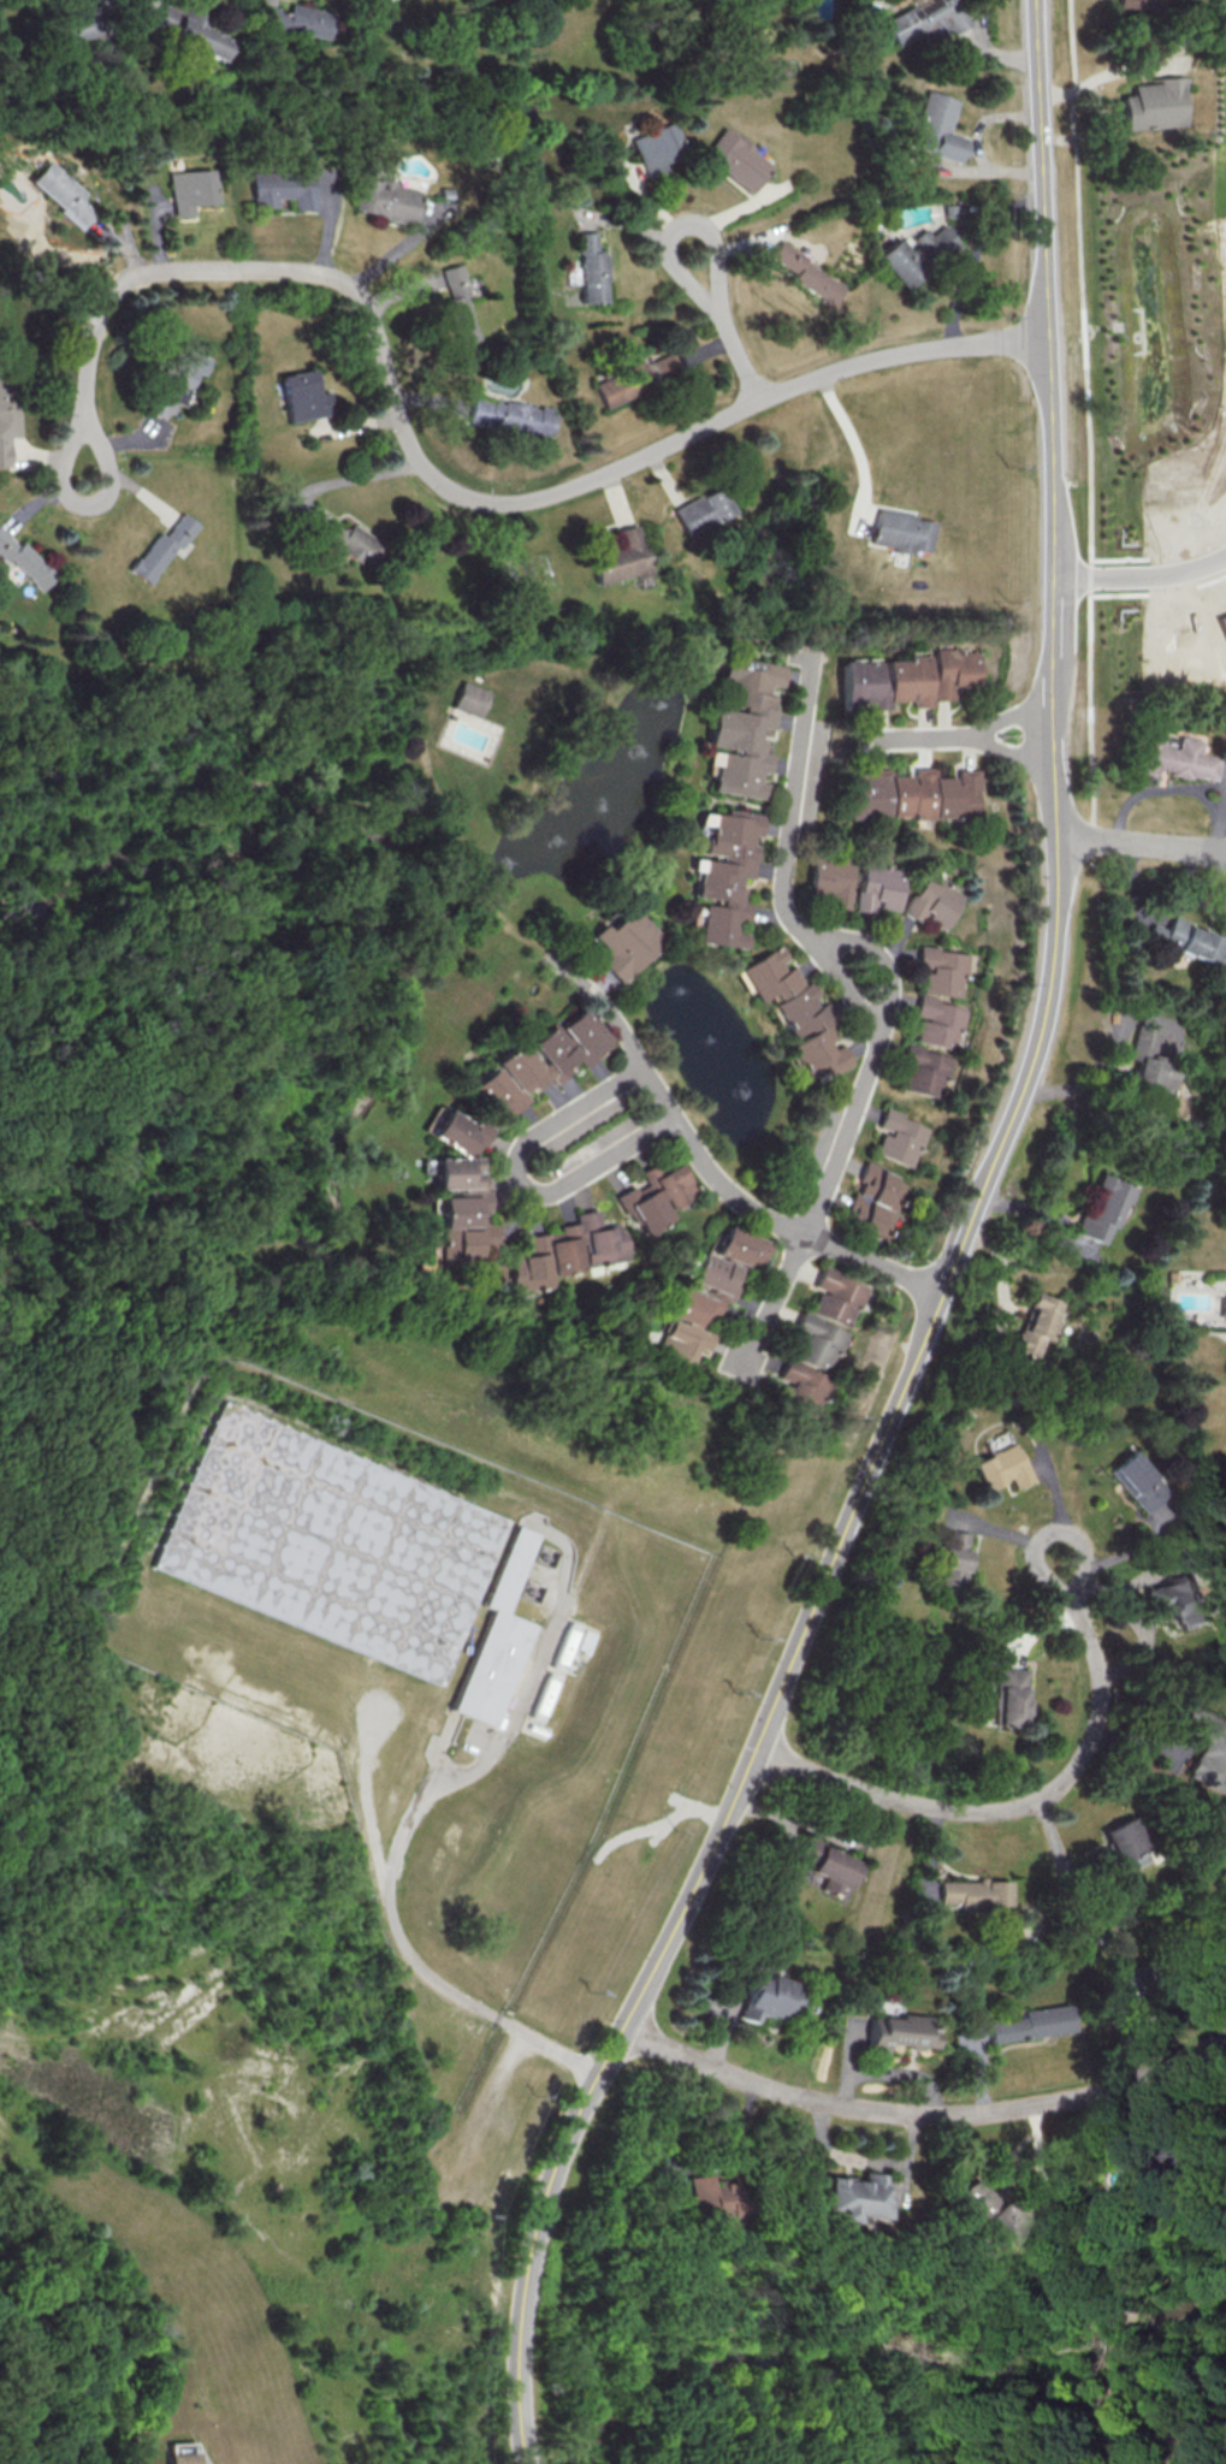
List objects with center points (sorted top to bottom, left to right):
building: (1138, 4)
building: (295, 19)
building: (925, 20)
building: (76, 24)
building: (190, 31)
road: (1112, 70)
building: (1155, 103)
building: (938, 126)
building: (657, 147)
building: (739, 159)
building: (286, 188)
building: (193, 190)
building: (61, 194)
building: (389, 200)
building: (935, 243)
building: (901, 263)
building: (591, 269)
building: (810, 274)
building: (458, 306)
road: (728, 327)
building: (639, 378)
building: (176, 379)
building: (301, 396)
building: (511, 416)
building: (7, 420)
road: (854, 440)
road: (356, 476)
road: (438, 480)
building: (701, 510)
building: (902, 531)
building: (344, 539)
building: (160, 549)
building: (618, 556)
building: (25, 561)
road: (1141, 577)
building: (1225, 617)
building: (912, 679)
building: (468, 698)
road: (1018, 718)
building: (744, 724)
road: (930, 739)
road: (1019, 751)
building: (1177, 757)
building: (916, 794)
road: (1143, 845)
building: (725, 876)
building: (835, 881)
building: (884, 887)
building: (941, 901)
building: (1185, 940)
building: (623, 943)
river: (355, 948)
road: (876, 1001)
building: (795, 1012)
building: (941, 1021)
building: (537, 1062)
building: (1147, 1068)
building: (455, 1132)
building: (901, 1137)
road: (704, 1167)
building: (456, 1172)
road: (516, 1179)
building: (653, 1197)
building: (873, 1202)
building: (1107, 1209)
building: (464, 1230)
building: (738, 1248)
building: (567, 1251)
road: (954, 1267)
building: (835, 1297)
building: (699, 1307)
building: (1037, 1323)
building: (817, 1341)
building: (804, 1387)
building: (1003, 1467)
building: (1138, 1480)
building: (213, 1497)
building: (954, 1563)
building: (1180, 1600)
building: (498, 1639)
building: (1015, 1698)
building: (1209, 1747)
road: (367, 1749)
road: (1027, 1806)
road: (419, 1816)
building: (1129, 1843)
building: (829, 1866)
building: (977, 1894)
building: (1033, 2024)
building: (899, 2033)
road: (923, 2116)
road: (865, 2160)
road: (681, 2168)
building: (852, 2197)
building: (709, 2199)
building: (985, 2210)
river: (101, 2332)
river: (1103, 2355)
river: (801, 2357)
building: (182, 2458)

